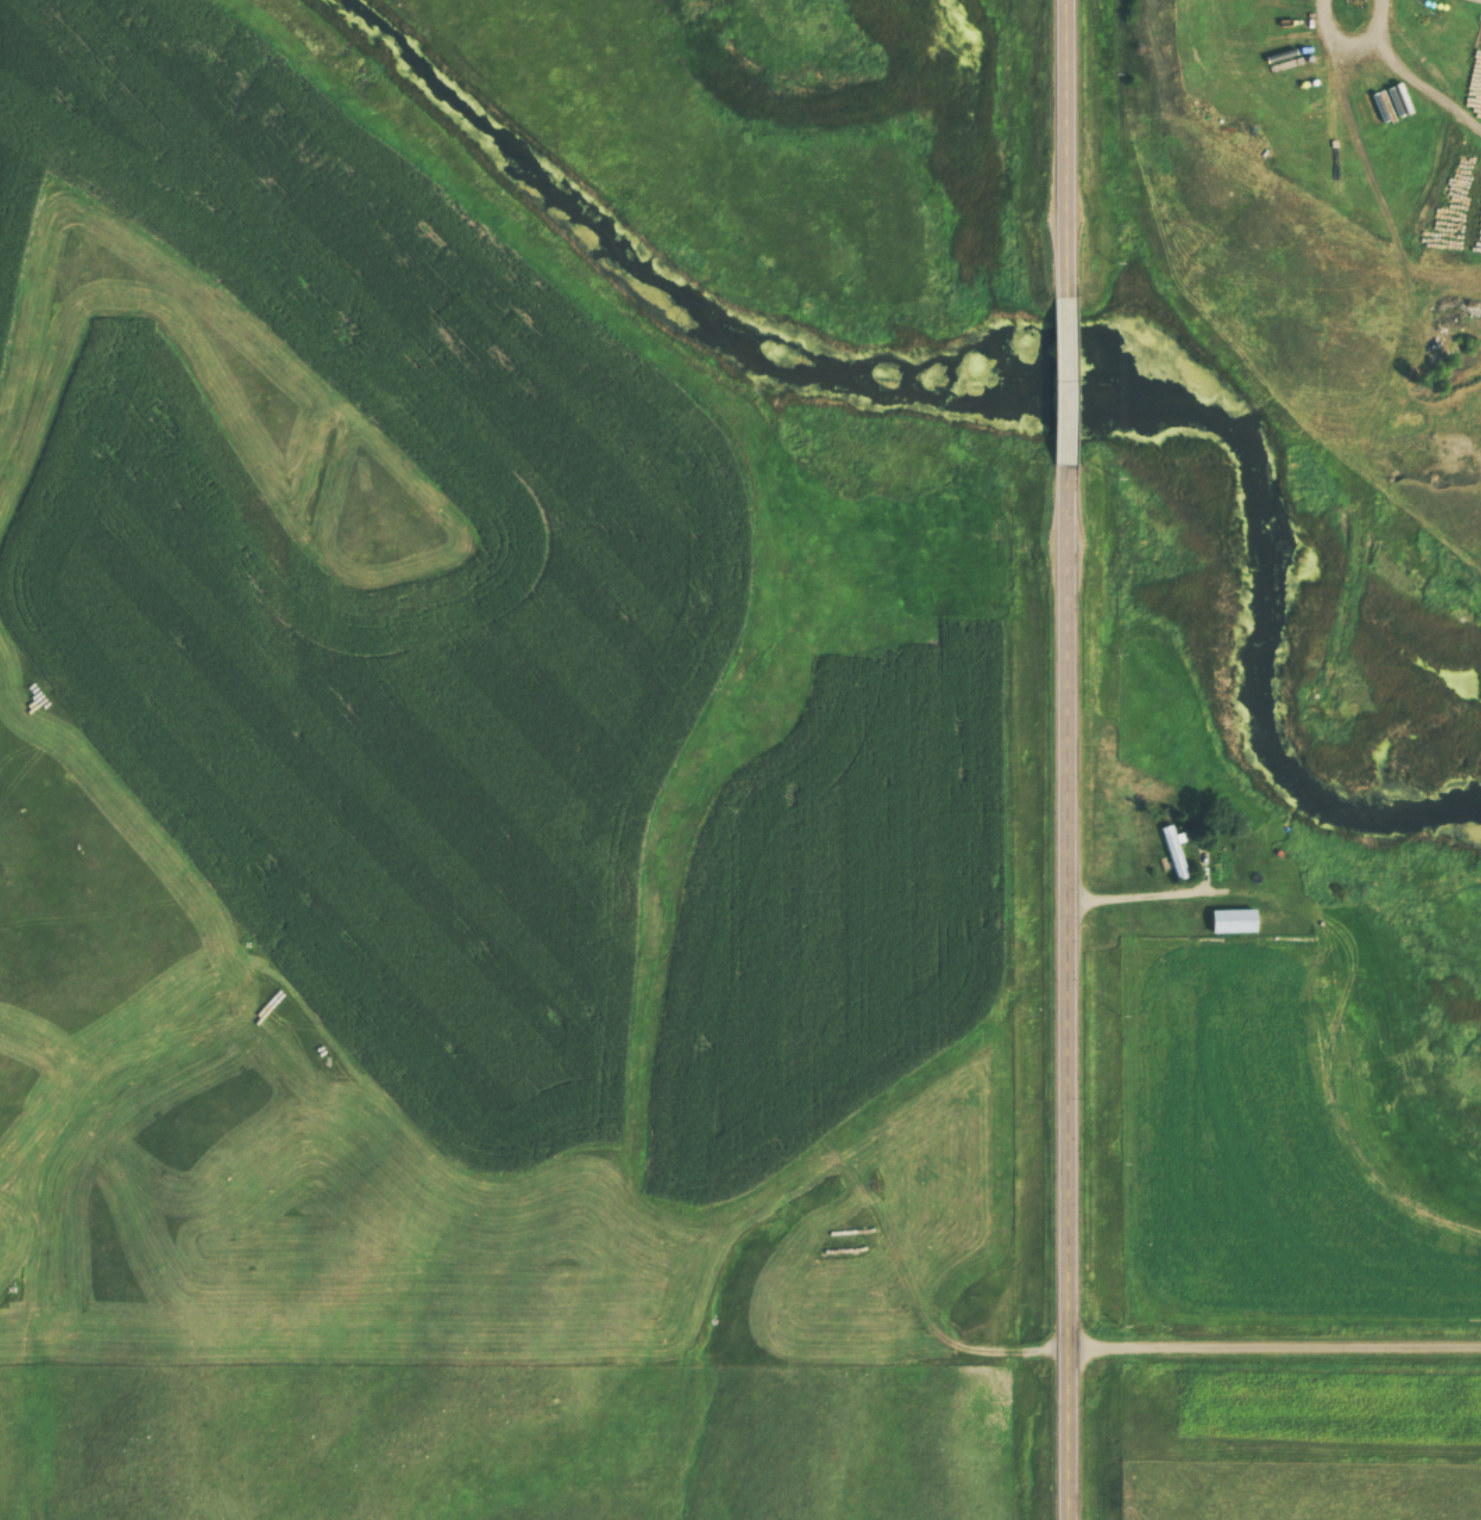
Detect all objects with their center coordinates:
road: (1063, 146)
road: (1064, 379)
building: (1173, 851)
road: (1133, 896)
building: (1232, 919)
road: (1065, 993)
road: (1273, 1333)

